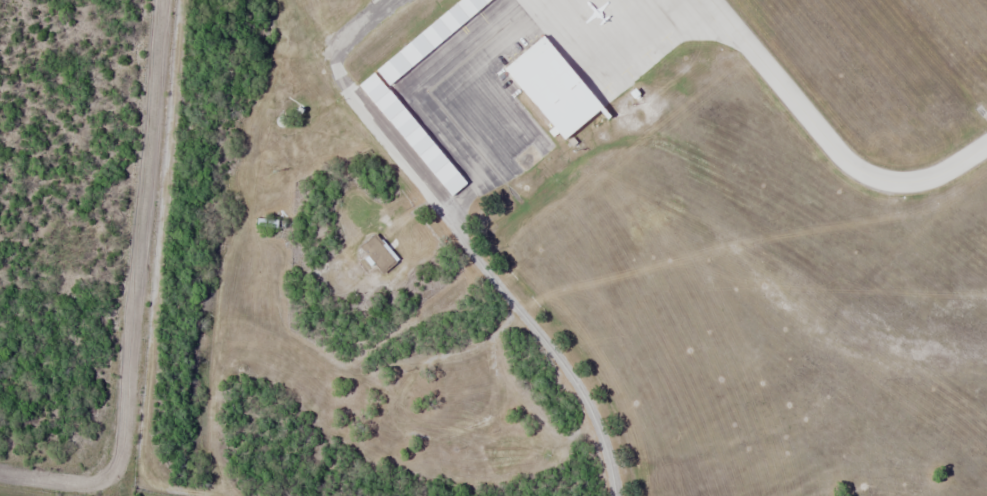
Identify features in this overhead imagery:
building: (428, 34)
airport apron: (617, 36)
building: (557, 80)
building: (415, 127)
airport taxiway: (834, 142)
building: (266, 223)
building: (375, 254)
road: (484, 276)

